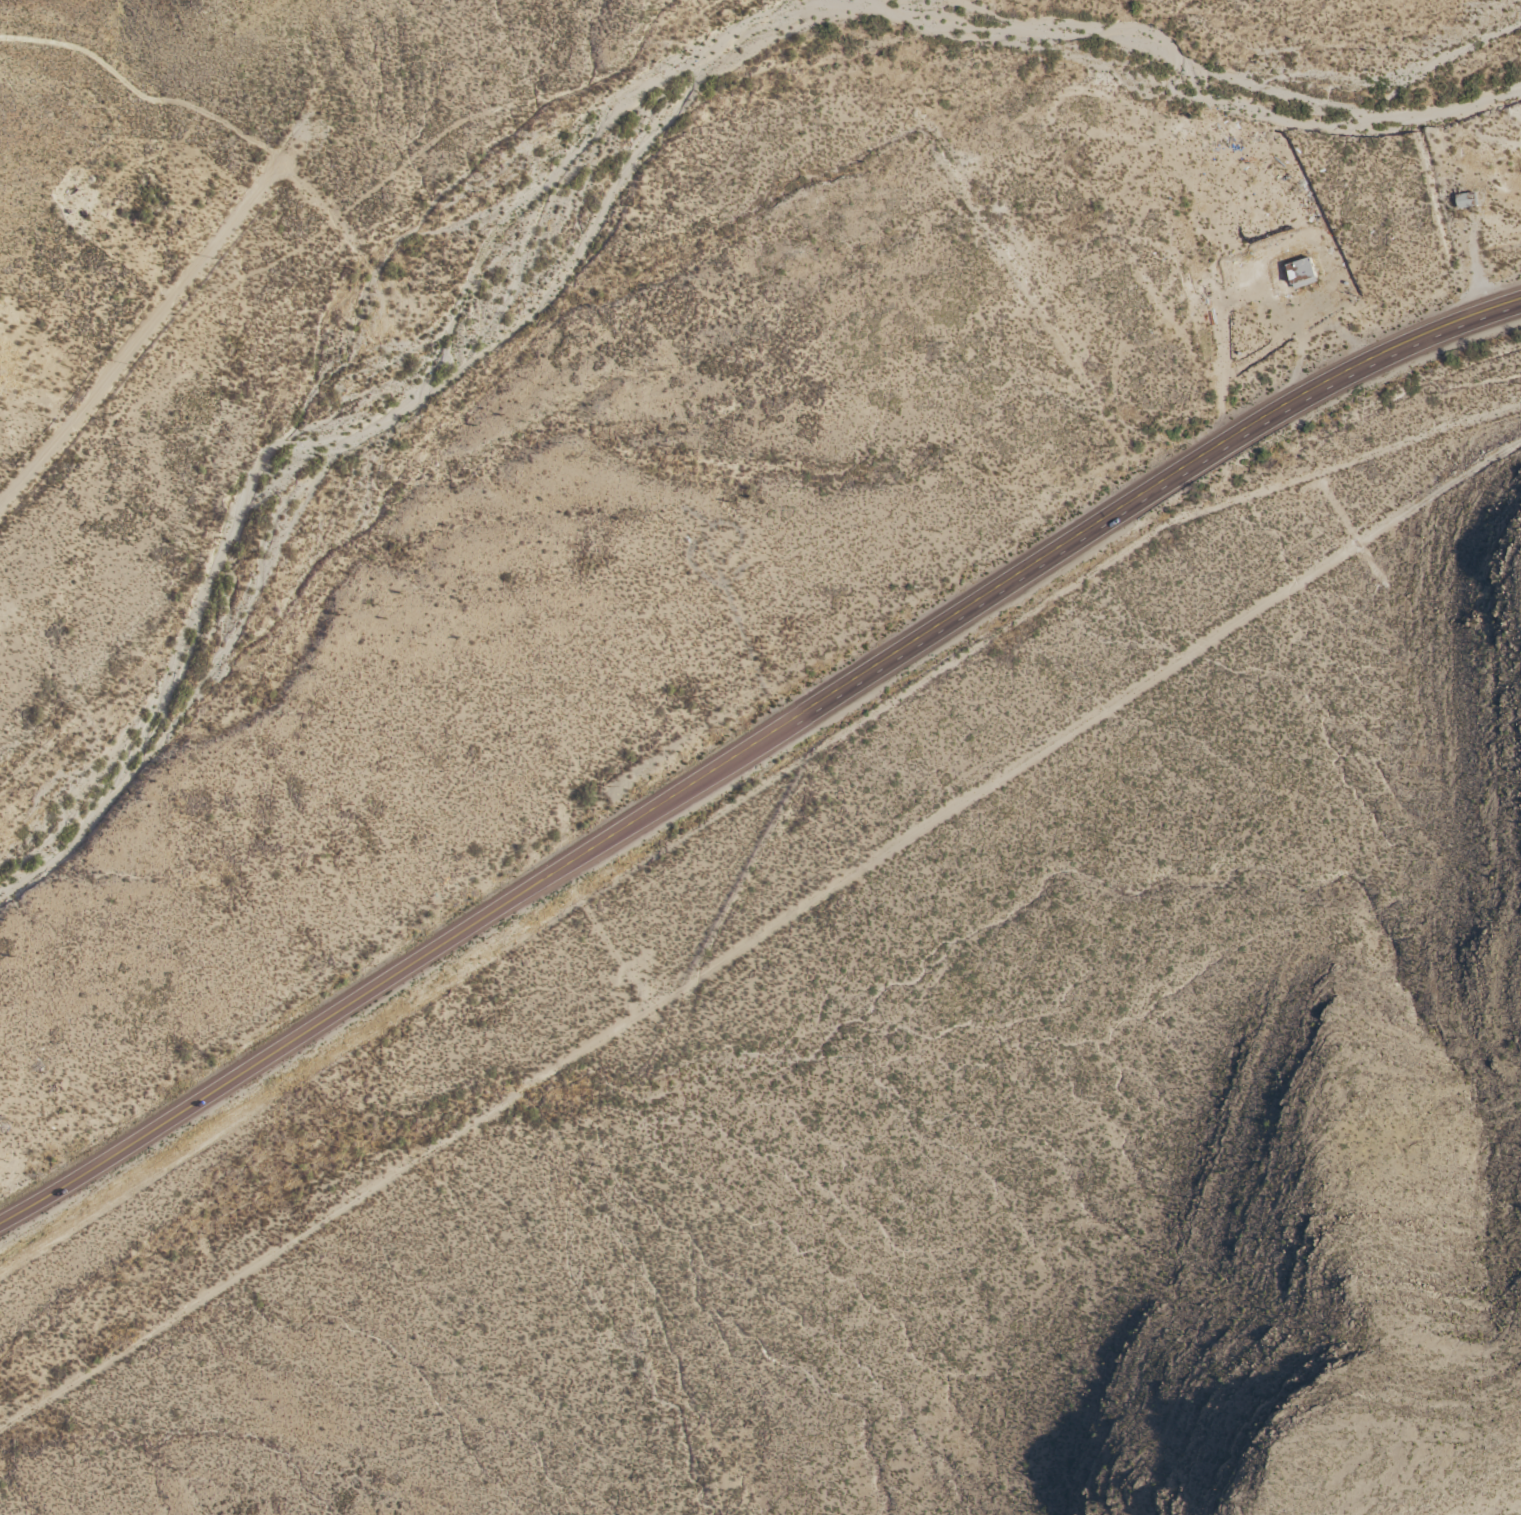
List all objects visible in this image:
road: (305, 146)
building: (1461, 201)
road: (360, 234)
building: (1296, 274)
road: (148, 338)
road: (1133, 496)
road: (760, 934)
road: (382, 977)

